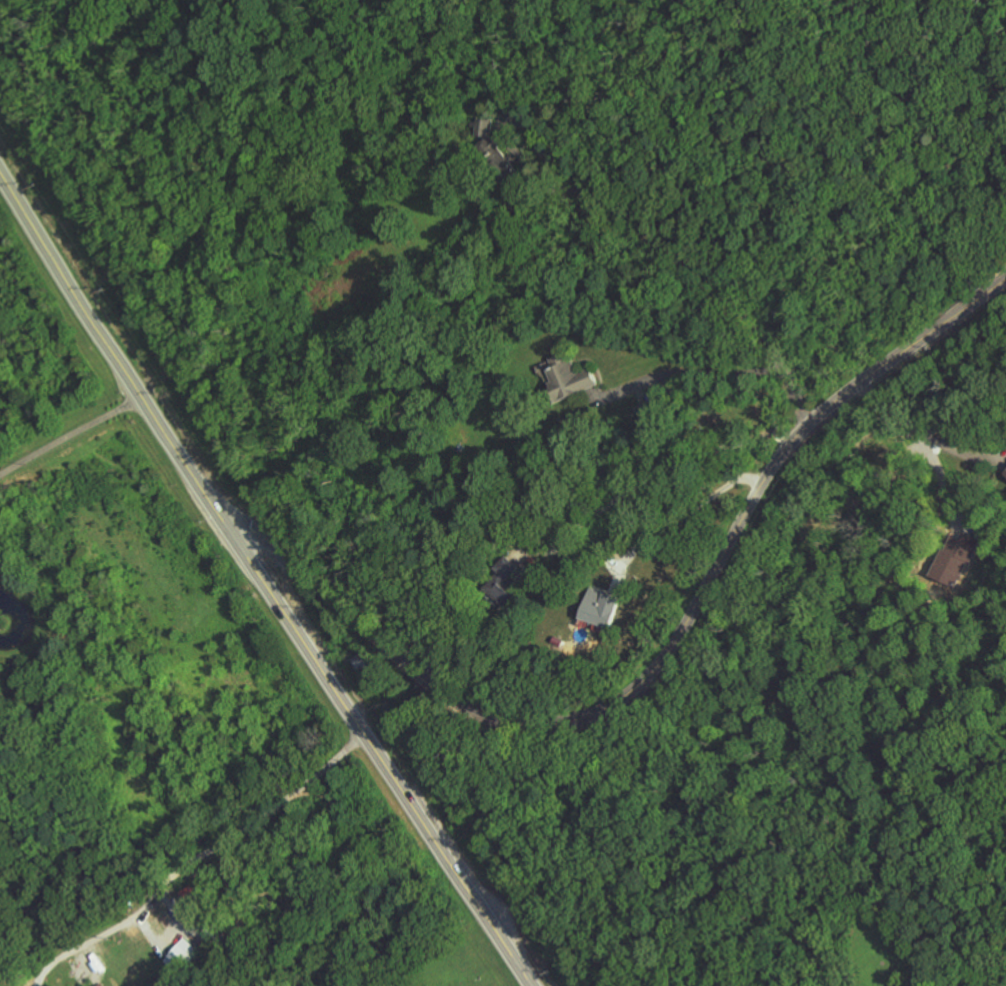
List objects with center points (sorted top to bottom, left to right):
road: (610, 196)
road: (757, 329)
road: (689, 370)
building: (569, 377)
building: (649, 413)
road: (919, 431)
road: (69, 432)
building: (1005, 473)
road: (652, 474)
road: (684, 508)
road: (264, 582)
building: (503, 582)
building: (600, 609)
road: (0, 624)
road: (664, 652)
road: (245, 826)
building: (180, 954)
building: (100, 985)

